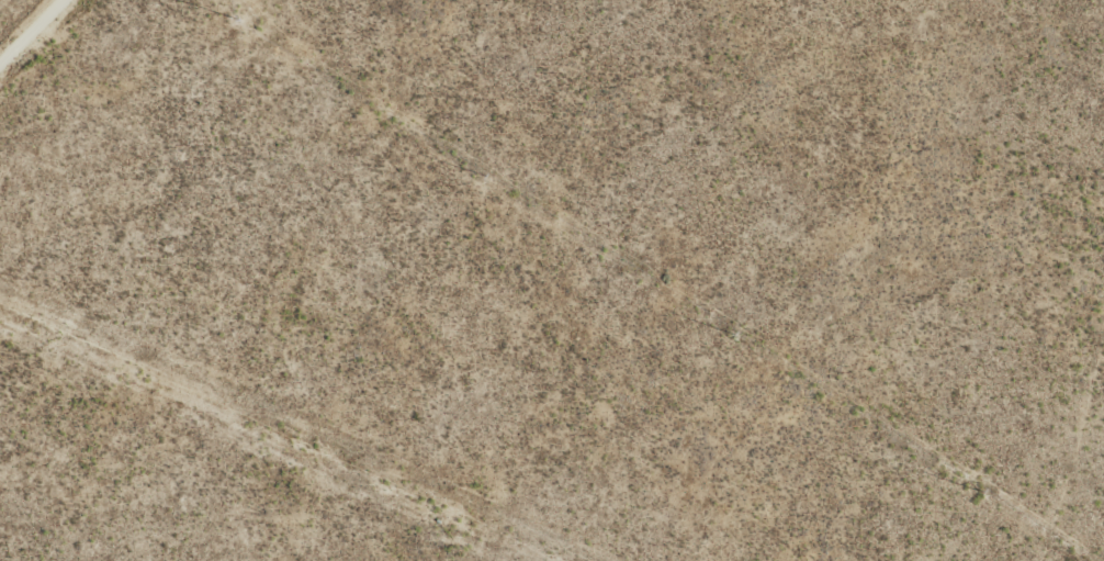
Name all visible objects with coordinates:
power tower: (237, 21)
power tower: (484, 177)
power tower: (733, 335)
power tower: (981, 492)

